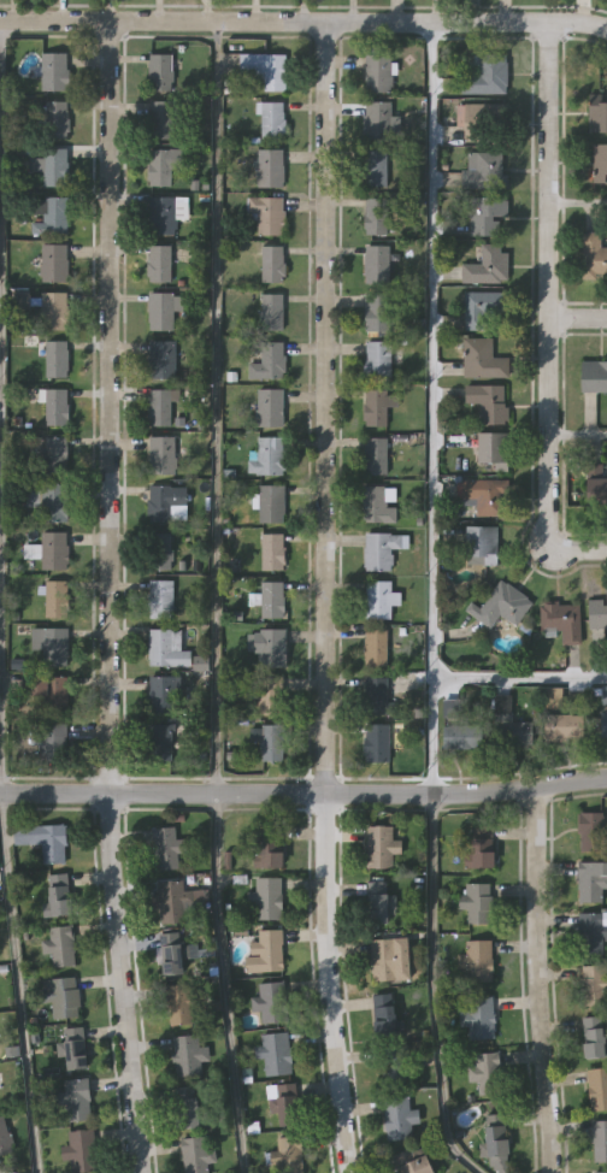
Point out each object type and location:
road: (303, 20)
building: (265, 69)
building: (54, 72)
building: (160, 72)
building: (488, 72)
building: (377, 73)
building: (597, 117)
building: (53, 118)
building: (164, 120)
building: (272, 120)
building: (378, 120)
building: (481, 122)
building: (599, 164)
building: (51, 166)
building: (160, 167)
building: (375, 167)
building: (270, 169)
building: (485, 171)
road: (547, 172)
road: (577, 204)
building: (164, 214)
building: (266, 214)
building: (485, 214)
building: (49, 216)
building: (375, 217)
building: (593, 255)
building: (377, 260)
building: (53, 263)
building: (159, 264)
building: (272, 264)
building: (487, 265)
building: (482, 308)
building: (53, 311)
building: (163, 311)
building: (271, 312)
building: (377, 313)
road: (579, 317)
building: (55, 359)
building: (161, 359)
building: (482, 359)
building: (377, 360)
building: (267, 361)
building: (594, 377)
building: (488, 402)
road: (1, 406)
building: (54, 407)
road: (214, 407)
road: (434, 407)
building: (161, 408)
building: (269, 408)
building: (375, 408)
road: (548, 432)
road: (577, 432)
building: (493, 449)
building: (52, 454)
building: (161, 455)
building: (266, 456)
building: (375, 456)
building: (597, 494)
building: (485, 495)
building: (53, 502)
building: (164, 502)
building: (271, 503)
building: (377, 505)
building: (481, 543)
building: (381, 549)
road: (583, 549)
building: (53, 550)
building: (159, 550)
building: (272, 552)
road: (108, 597)
road: (324, 597)
building: (57, 599)
building: (159, 599)
building: (271, 600)
building: (378, 600)
building: (501, 605)
building: (597, 609)
building: (561, 621)
building: (269, 646)
building: (53, 647)
building: (166, 648)
building: (375, 648)
road: (520, 679)
building: (47, 691)
building: (163, 696)
building: (270, 696)
building: (377, 697)
building: (603, 724)
building: (508, 725)
building: (564, 726)
building: (462, 736)
building: (53, 742)
building: (160, 743)
building: (271, 743)
building: (376, 743)
road: (303, 794)
building: (590, 831)
building: (43, 839)
building: (381, 845)
building: (165, 848)
building: (481, 848)
building: (267, 853)
building: (590, 880)
building: (59, 894)
building: (267, 897)
building: (171, 901)
building: (379, 902)
building: (476, 902)
building: (591, 931)
building: (60, 944)
building: (265, 951)
building: (172, 953)
building: (389, 959)
building: (475, 960)
road: (536, 979)
road: (19, 983)
road: (225, 983)
building: (594, 985)
road: (435, 990)
building: (60, 995)
building: (270, 1001)
building: (179, 1002)
building: (384, 1013)
building: (478, 1018)
building: (594, 1036)
building: (75, 1048)
building: (276, 1053)
building: (188, 1055)
building: (393, 1065)
building: (485, 1072)
building: (597, 1087)
building: (77, 1098)
building: (283, 1101)
building: (188, 1106)
building: (397, 1116)
building: (495, 1139)
building: (600, 1140)
building: (79, 1150)
building: (196, 1154)
building: (289, 1154)
building: (414, 1160)
building: (7, 1172)
building: (600, 1172)

